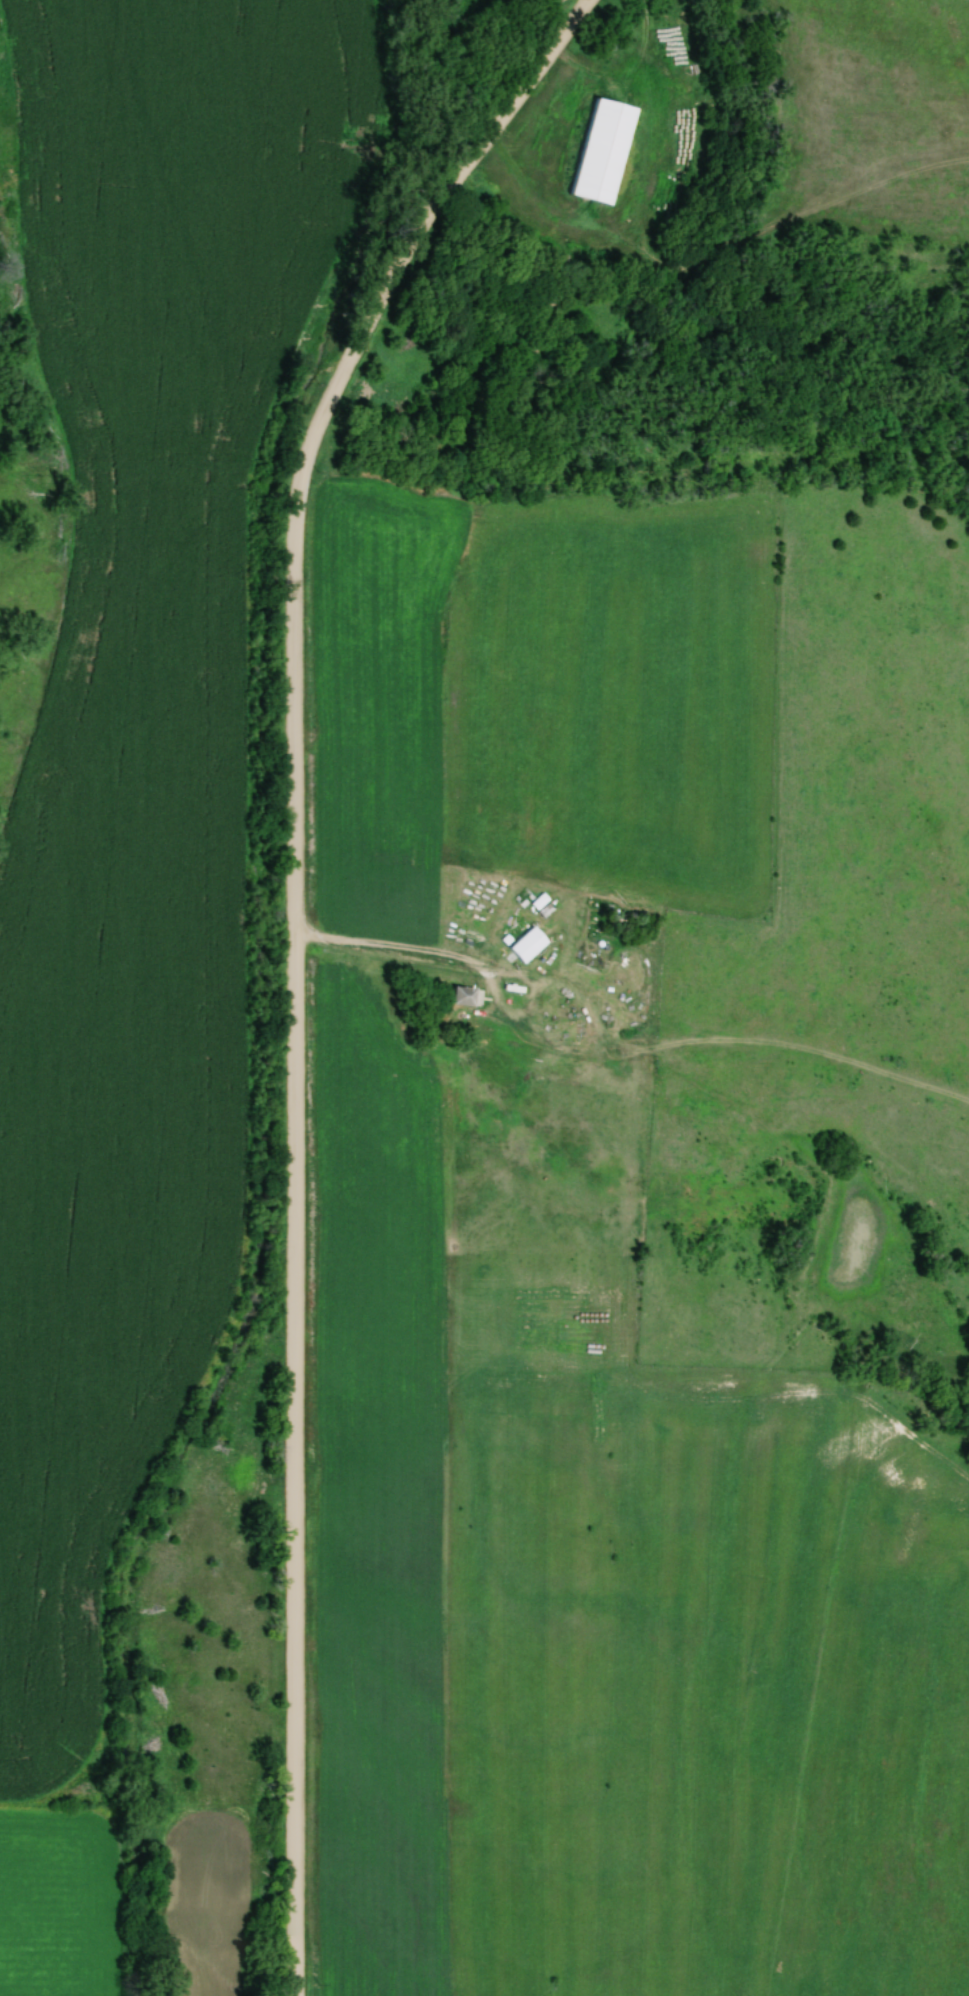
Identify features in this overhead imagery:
building: (597, 152)
building: (525, 944)
road: (299, 956)
road: (409, 957)
building: (461, 995)

